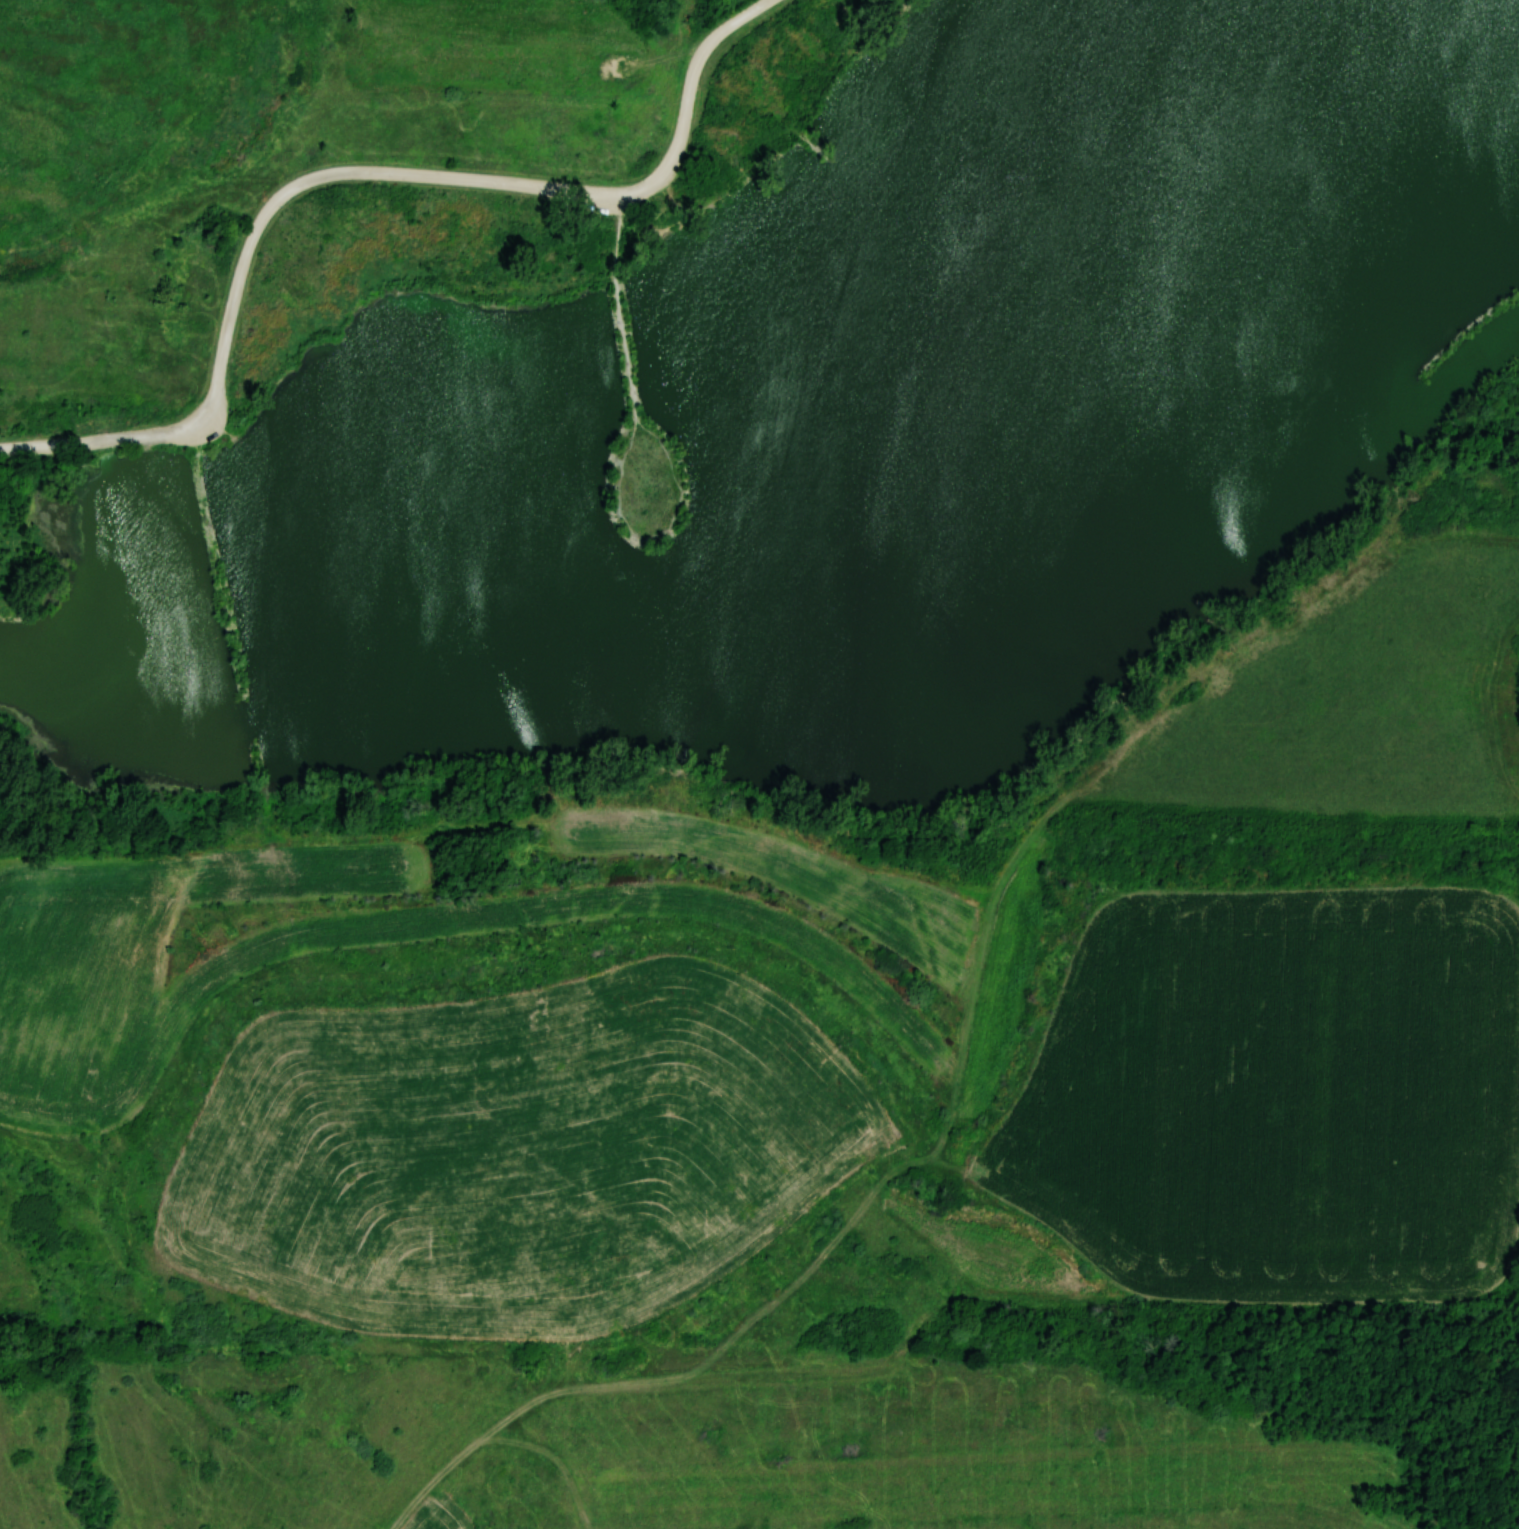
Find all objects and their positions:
parking lot: (778, 1)
road: (357, 173)

